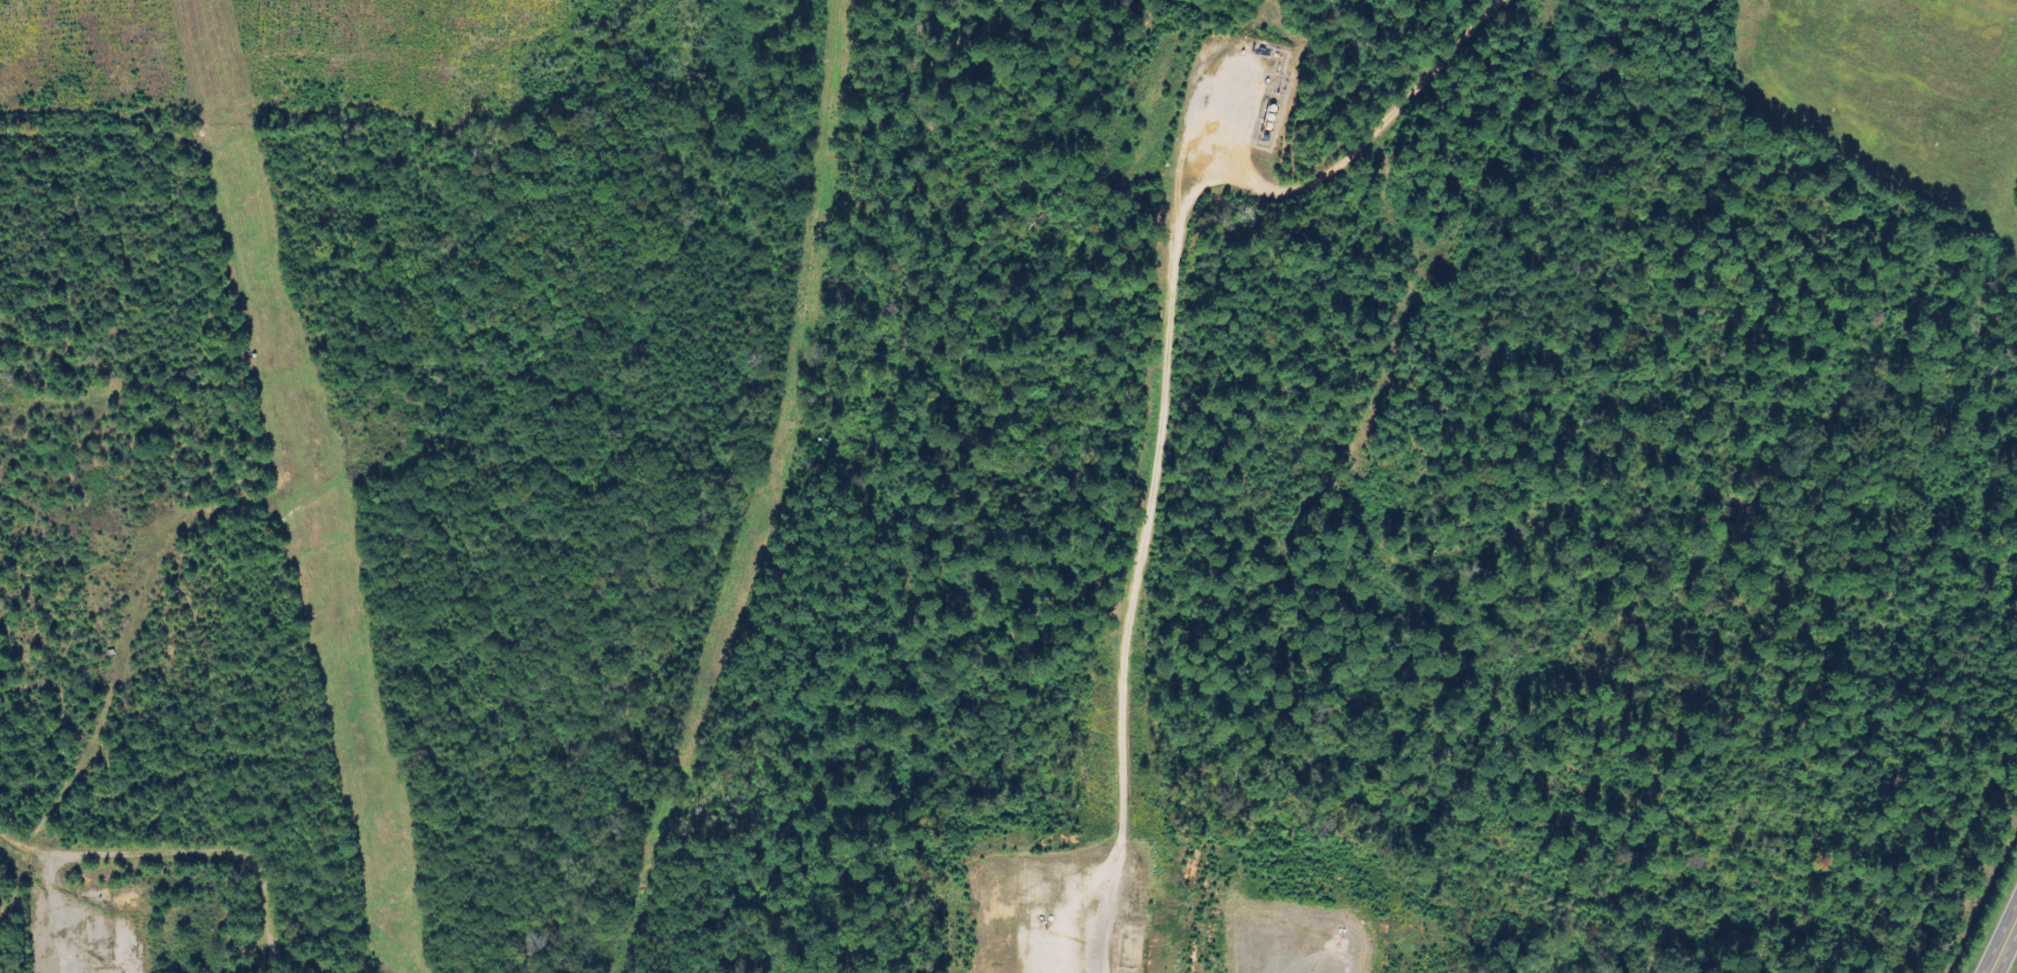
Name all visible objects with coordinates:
road: (2003, 945)

